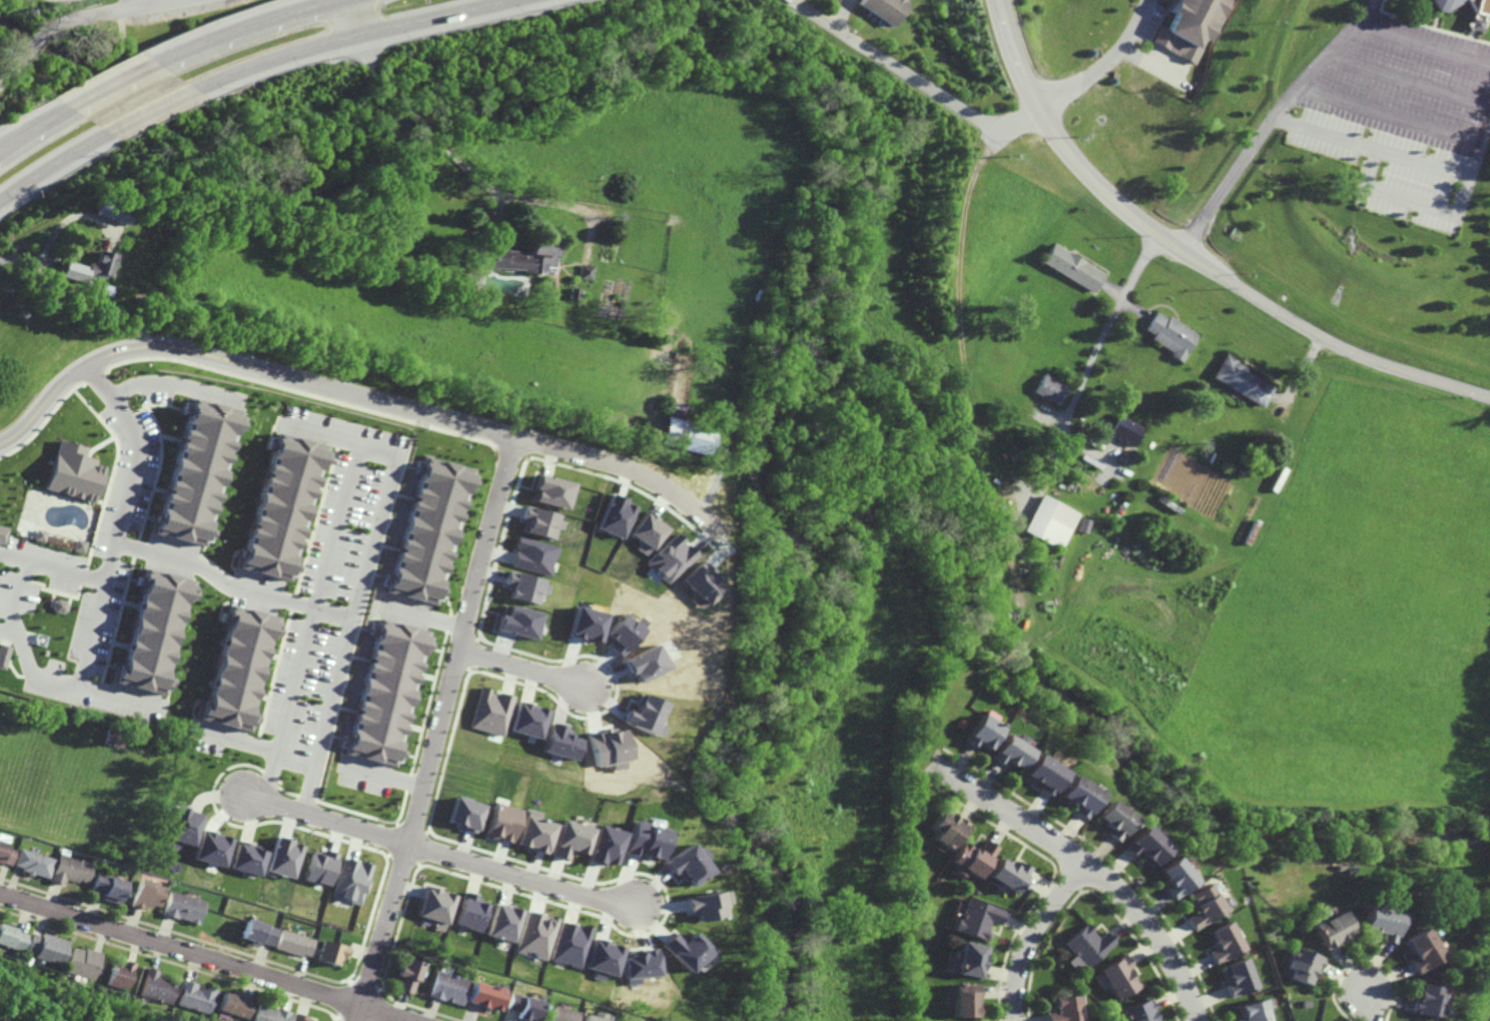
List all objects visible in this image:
building: (1445, 4)
building: (881, 8)
road: (105, 13)
building: (1479, 14)
road: (352, 17)
road: (430, 17)
road: (239, 25)
building: (1188, 27)
road: (1424, 46)
road: (31, 47)
road: (274, 56)
road: (1325, 57)
road: (1101, 63)
road: (1154, 68)
road: (9, 73)
road: (378, 76)
road: (1405, 82)
road: (110, 84)
road: (931, 90)
road: (150, 111)
road: (1387, 113)
road: (419, 119)
road: (33, 125)
road: (1420, 162)
road: (51, 166)
road: (475, 172)
road: (1228, 184)
road: (1402, 199)
road: (541, 200)
building: (111, 212)
road: (28, 239)
building: (523, 257)
road: (1190, 257)
building: (90, 267)
building: (1075, 268)
building: (586, 272)
building: (105, 289)
building: (574, 293)
building: (1168, 335)
road: (1088, 369)
building: (1245, 380)
road: (171, 383)
building: (1051, 389)
road: (349, 394)
building: (684, 426)
building: (1126, 430)
road: (374, 451)
building: (195, 472)
building: (74, 474)
building: (553, 491)
building: (282, 507)
building: (614, 516)
building: (1049, 521)
building: (543, 522)
building: (1083, 525)
building: (429, 531)
building: (647, 533)
building: (2, 534)
building: (80, 546)
road: (136, 552)
building: (536, 556)
building: (671, 558)
road: (13, 560)
road: (110, 564)
building: (702, 583)
building: (526, 586)
building: (519, 622)
building: (586, 624)
road: (7, 632)
building: (155, 632)
building: (621, 633)
building: (3, 655)
road: (22, 657)
building: (643, 663)
building: (240, 667)
road: (521, 669)
building: (387, 693)
building: (490, 711)
building: (642, 715)
building: (527, 720)
road: (437, 729)
building: (981, 733)
road: (238, 740)
building: (558, 743)
building: (607, 747)
building: (1009, 752)
building: (1044, 775)
building: (1078, 797)
building: (464, 814)
building: (1114, 819)
building: (501, 822)
building: (181, 827)
building: (946, 831)
building: (534, 832)
building: (569, 839)
building: (642, 841)
building: (603, 845)
building: (1147, 846)
building: (210, 848)
road: (439, 853)
building: (5, 854)
building: (281, 857)
building: (974, 857)
road: (1077, 857)
building: (245, 859)
building: (33, 863)
building: (685, 863)
building: (318, 868)
building: (69, 869)
building: (1008, 875)
building: (1175, 876)
building: (350, 881)
building: (109, 887)
building: (147, 894)
building: (703, 905)
building: (1204, 905)
building: (181, 907)
building: (435, 907)
building: (470, 912)
building: (1381, 918)
building: (977, 919)
building: (503, 922)
building: (1331, 928)
building: (257, 932)
building: (535, 935)
road: (1032, 935)
building: (13, 937)
building: (1224, 942)
building: (292, 943)
building: (568, 945)
building: (1089, 945)
building: (49, 948)
building: (1420, 948)
building: (684, 950)
building: (331, 952)
road: (206, 957)
building: (600, 958)
building: (969, 959)
building: (84, 963)
building: (638, 963)
building: (1301, 966)
building: (121, 974)
building: (408, 975)
building: (1118, 977)
building: (1239, 977)
building: (157, 987)
building: (447, 988)
building: (484, 996)
building: (194, 997)
building: (965, 1001)
building: (1428, 1001)
building: (234, 1005)
building: (522, 1007)
building: (1066, 1008)
road: (1368, 1008)
building: (1256, 1010)
building: (1137, 1012)
building: (269, 1013)
building: (558, 1015)
building: (298, 1017)
building: (591, 1017)

